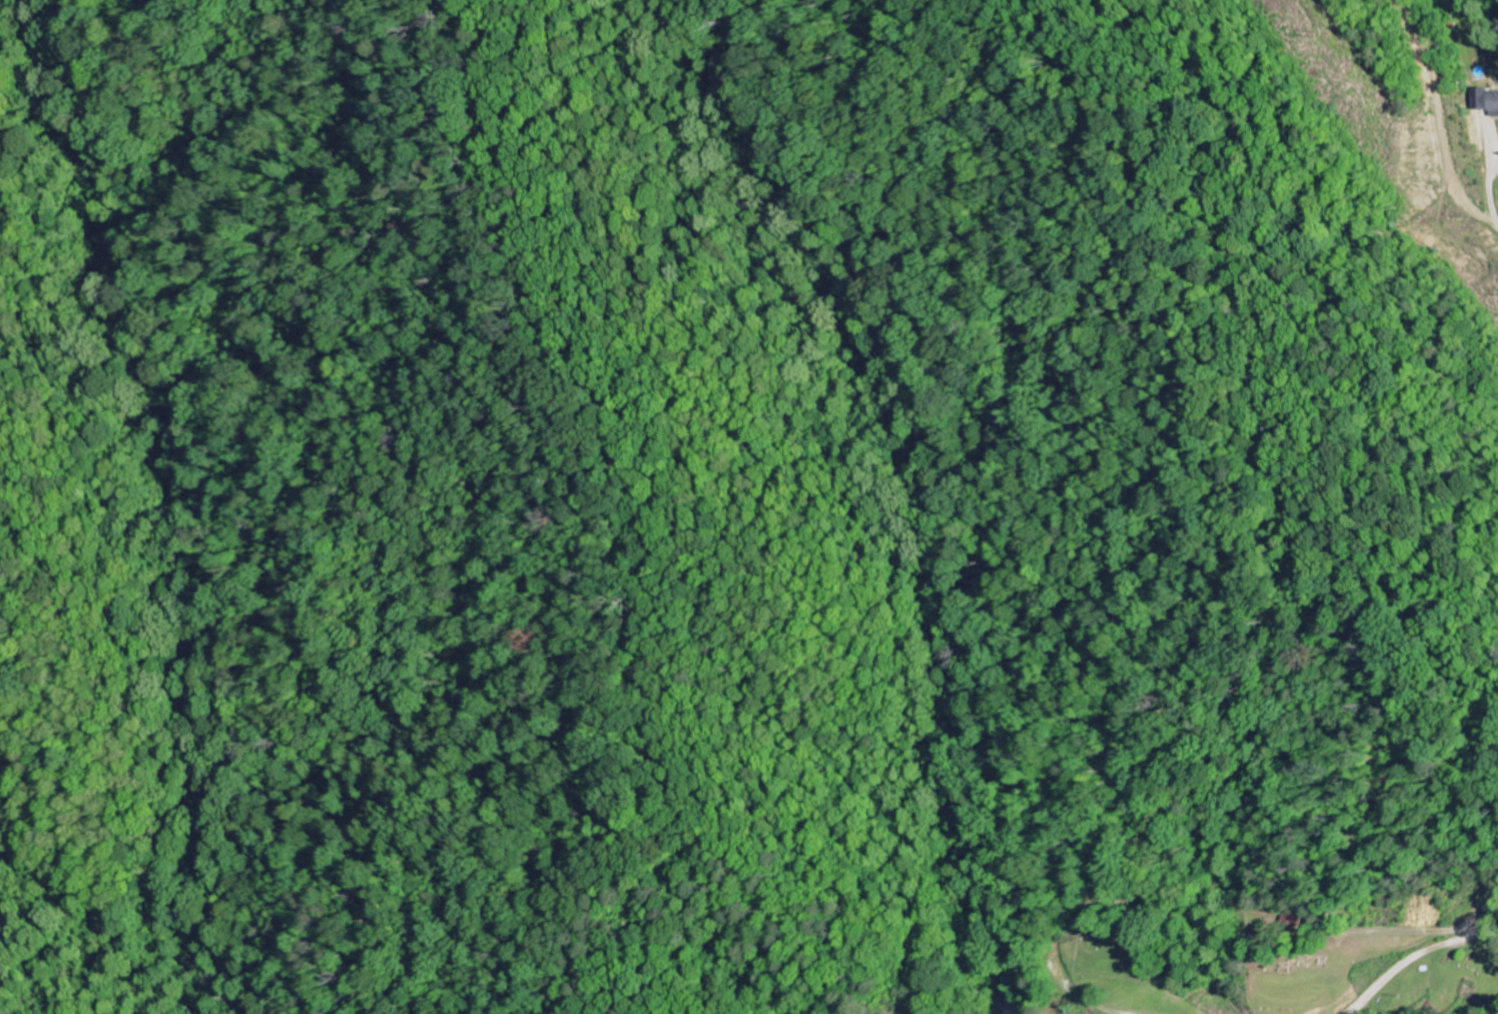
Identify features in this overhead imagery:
road: (1476, 47)
building: (1486, 100)
park: (1117, 943)
road: (1402, 964)
road: (1090, 996)

